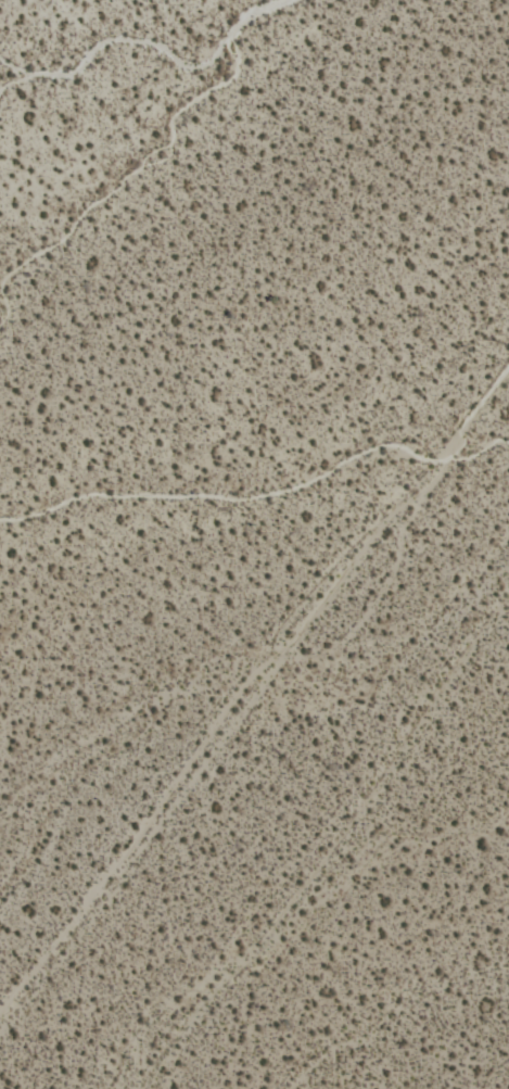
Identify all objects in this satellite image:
crop: (254, 544)

